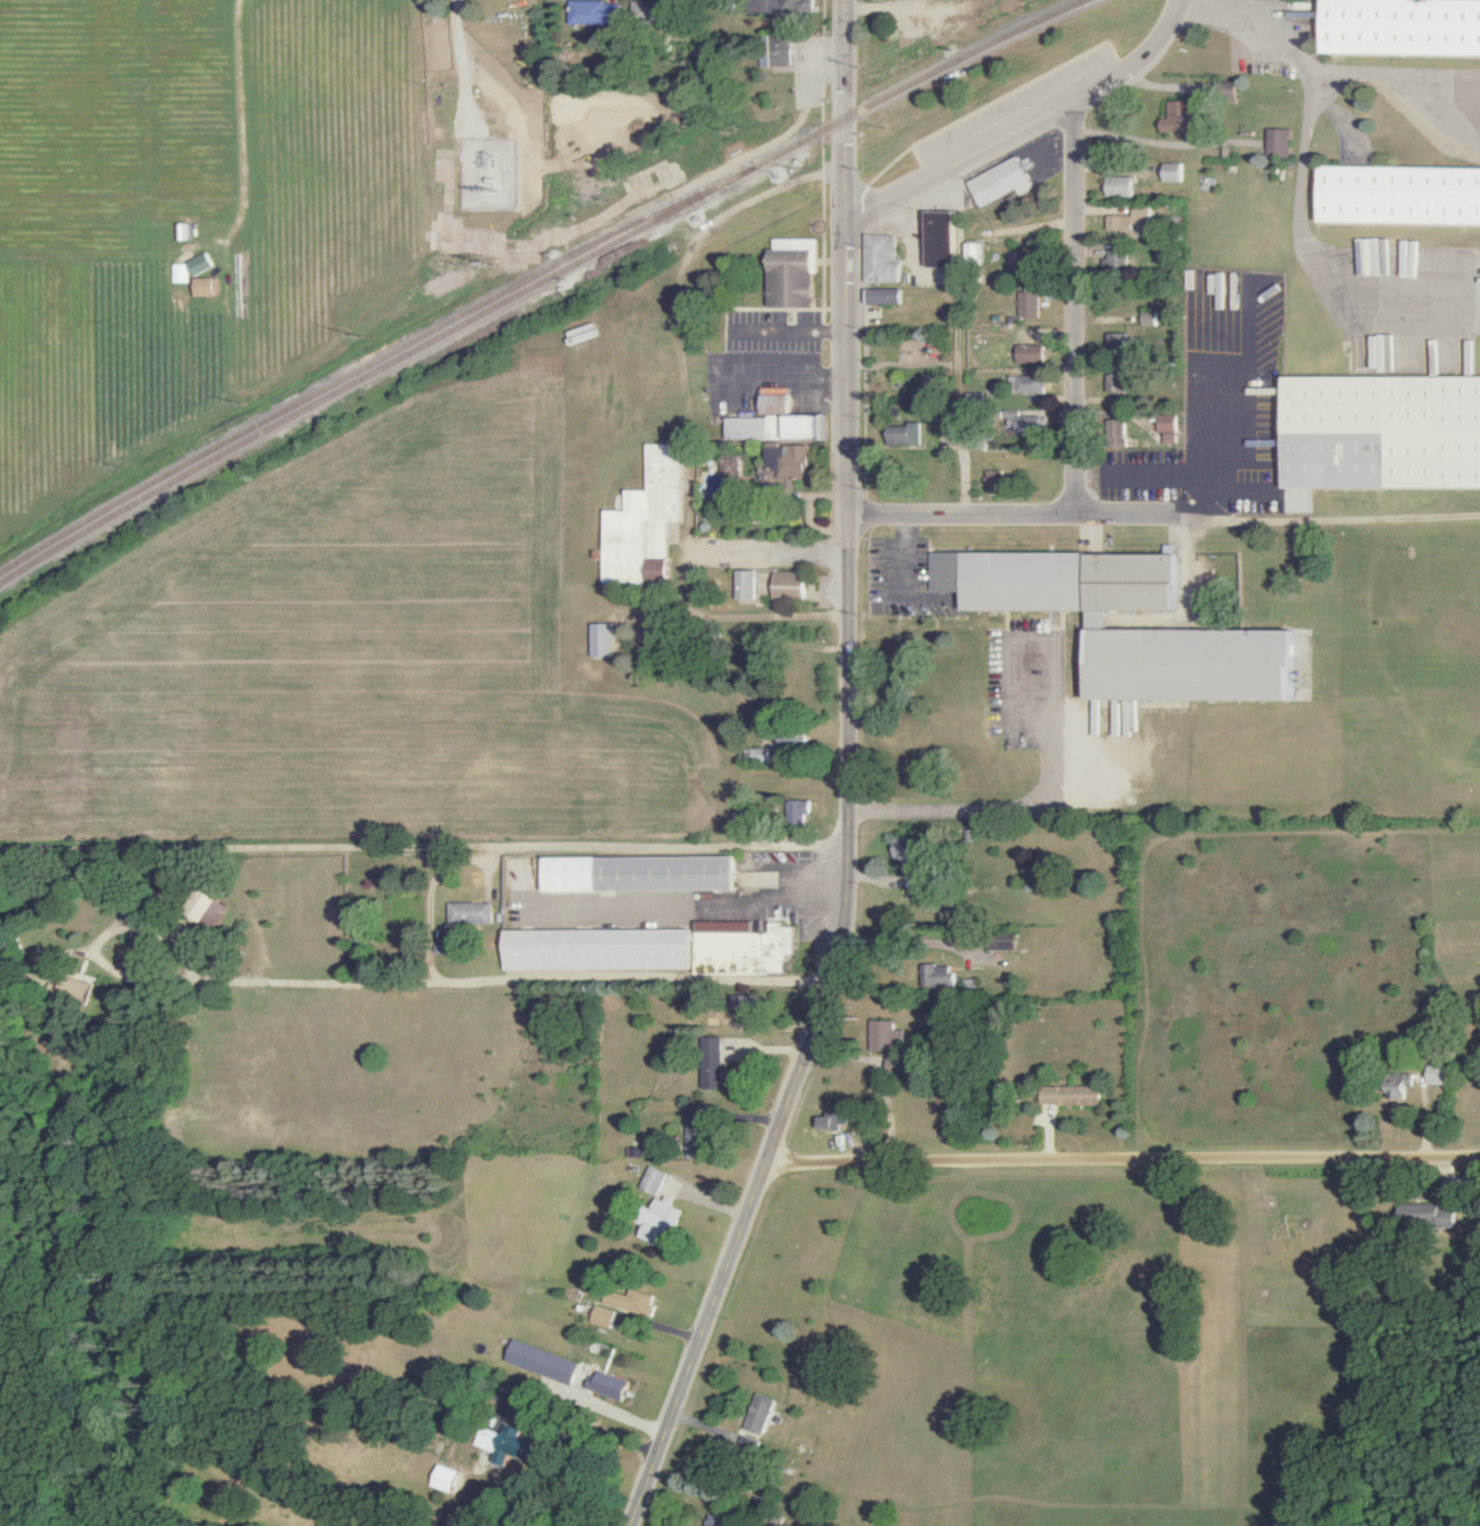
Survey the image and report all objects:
building: (792, 8)
road: (1218, 10)
building: (597, 13)
building: (1400, 27)
building: (782, 56)
road: (466, 61)
railway: (924, 79)
road: (848, 116)
building: (1179, 117)
road: (1030, 134)
building: (1277, 142)
building: (1172, 172)
building: (1001, 182)
building: (1119, 187)
building: (1401, 195)
building: (1131, 222)
building: (941, 240)
building: (975, 252)
building: (883, 259)
building: (1114, 263)
building: (200, 265)
building: (180, 273)
building: (792, 274)
building: (205, 287)
building: (884, 297)
building: (1028, 305)
road: (1071, 311)
building: (1147, 319)
building: (1112, 343)
building: (1031, 354)
railway: (373, 362)
railway: (374, 371)
building: (1026, 383)
building: (1115, 383)
building: (775, 422)
building: (1168, 428)
building: (1383, 432)
building: (905, 434)
building: (784, 465)
building: (729, 468)
road: (1165, 517)
building: (645, 521)
road: (903, 555)
road: (683, 583)
building: (744, 585)
building: (788, 586)
building: (1096, 620)
building: (601, 640)
road: (1024, 807)
building: (798, 811)
road: (423, 847)
building: (906, 854)
building: (641, 874)
road: (843, 897)
building: (209, 913)
building: (470, 914)
road: (901, 940)
building: (743, 949)
building: (599, 950)
building: (937, 977)
road: (410, 985)
building: (74, 990)
building: (748, 1008)
building: (883, 1037)
building: (714, 1063)
building: (1439, 1075)
building: (1403, 1084)
building: (1071, 1096)
building: (833, 1122)
building: (697, 1139)
road: (1122, 1164)
building: (654, 1180)
building: (1418, 1214)
building: (631, 1301)
building: (603, 1317)
building: (542, 1362)
building: (608, 1386)
building: (758, 1414)
road: (579, 1416)
building: (501, 1445)
building: (445, 1478)
building: (714, 1521)

